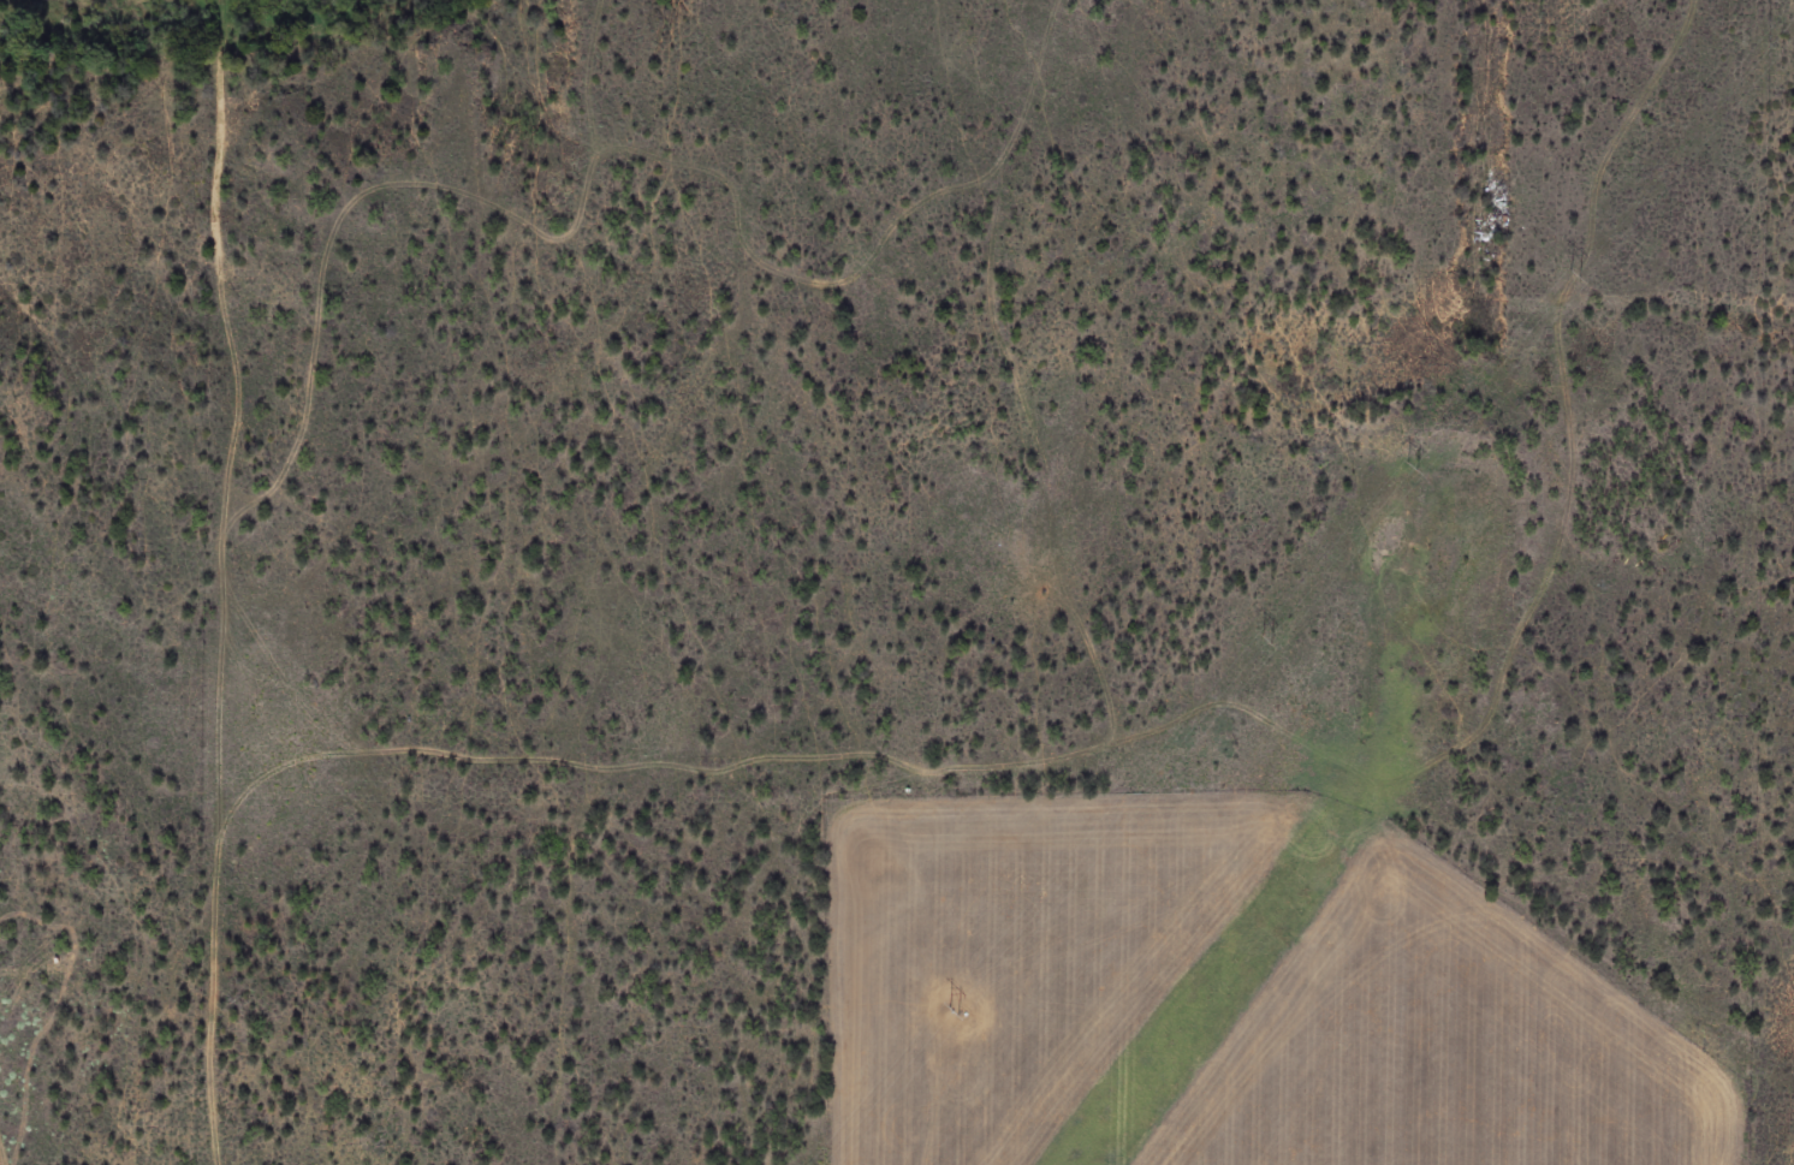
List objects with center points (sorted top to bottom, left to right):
power tower: (1576, 277)
power tower: (1414, 469)
road: (1605, 547)
power tower: (1267, 642)
power tower: (954, 1011)

